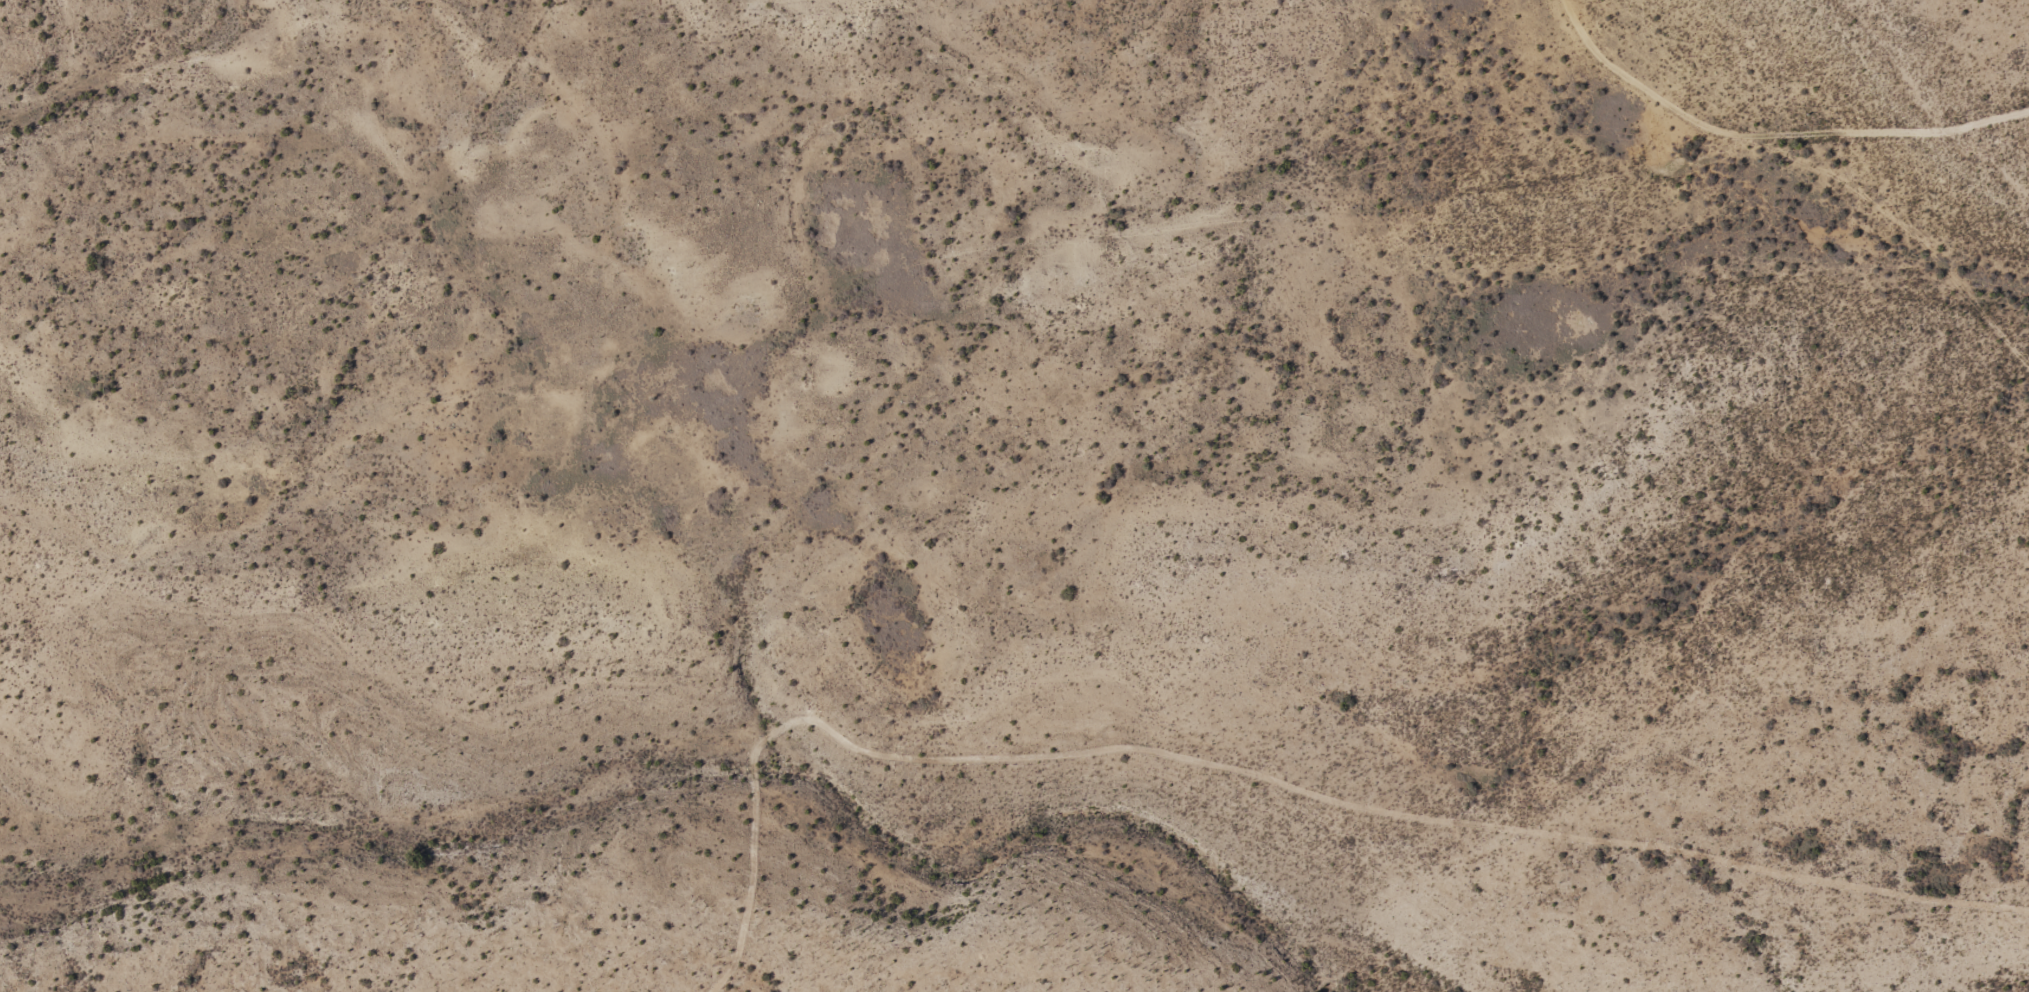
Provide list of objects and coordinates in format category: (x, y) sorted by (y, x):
road: (1803, 56)

